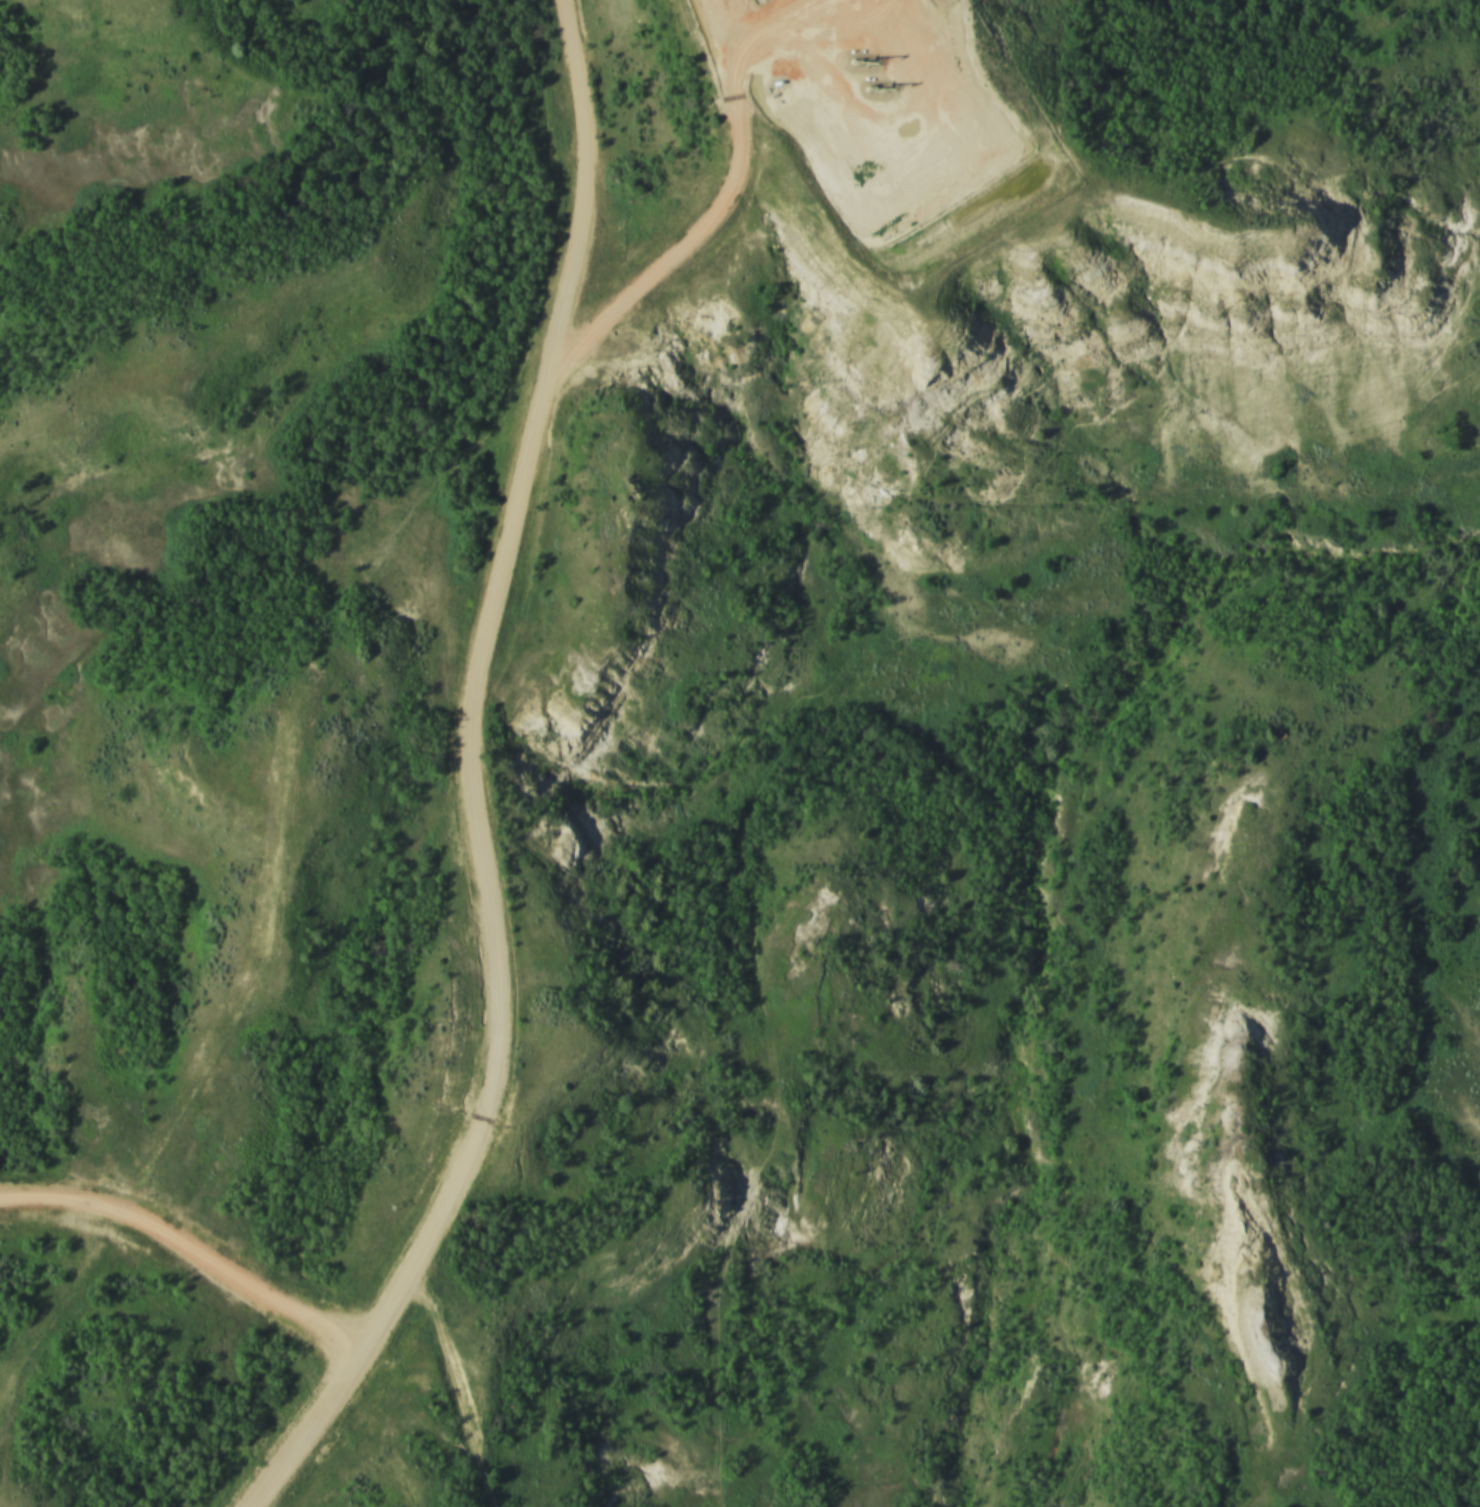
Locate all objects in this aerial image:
petroleum well: (853, 57)
petroleum well: (870, 88)
road: (485, 780)
road: (467, 1389)

